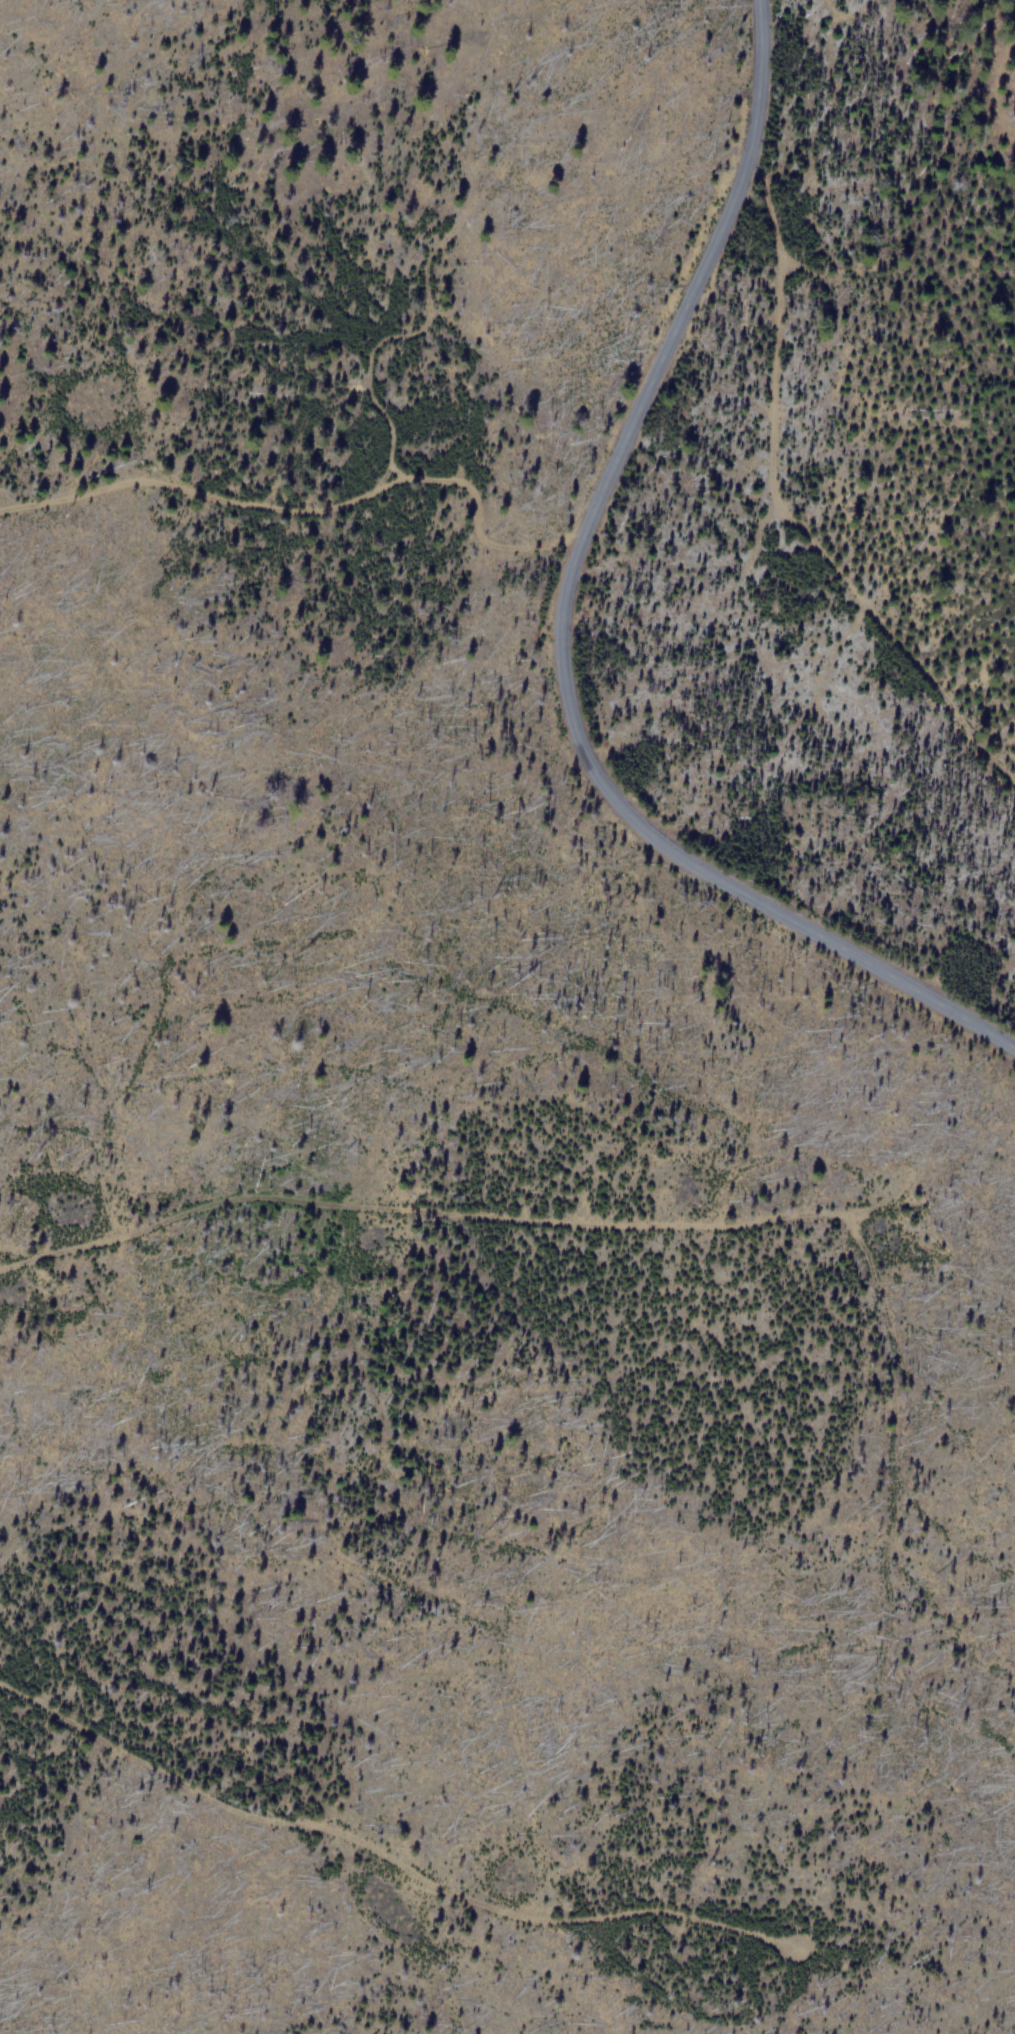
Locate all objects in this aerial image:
road: (311, 509)
road: (778, 511)
road: (560, 623)
road: (446, 1215)
road: (387, 1859)

